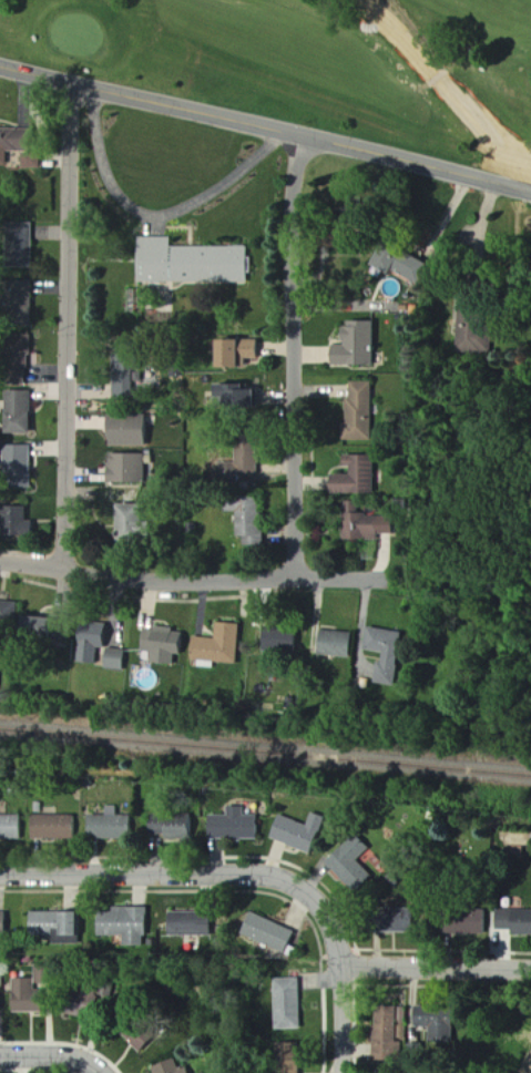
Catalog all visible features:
park: (314, 62)
road: (266, 125)
building: (16, 143)
building: (35, 161)
road: (154, 214)
building: (27, 242)
building: (194, 263)
building: (406, 265)
road: (65, 328)
building: (360, 346)
building: (244, 352)
road: (292, 355)
building: (135, 374)
building: (244, 396)
building: (23, 412)
building: (361, 413)
building: (132, 431)
building: (22, 461)
building: (247, 461)
building: (130, 469)
building: (362, 477)
building: (254, 523)
building: (134, 524)
building: (21, 525)
building: (370, 527)
road: (190, 582)
building: (10, 614)
building: (285, 640)
building: (340, 644)
building: (98, 645)
building: (167, 645)
building: (221, 647)
building: (390, 653)
building: (119, 660)
building: (0, 681)
railway: (265, 744)
building: (110, 825)
building: (243, 825)
building: (169, 827)
building: (11, 828)
building: (53, 828)
building: (299, 832)
building: (354, 863)
road: (200, 879)
building: (391, 920)
building: (462, 921)
building: (514, 921)
building: (3, 923)
building: (60, 924)
building: (125, 924)
building: (192, 924)
building: (272, 933)
road: (437, 971)
building: (47, 974)
building: (25, 997)
building: (89, 997)
building: (1, 1002)
building: (292, 1005)
road: (343, 1022)
building: (441, 1025)
building: (137, 1032)
building: (392, 1042)
building: (406, 1048)
road: (57, 1057)
building: (287, 1059)
building: (169, 1069)

